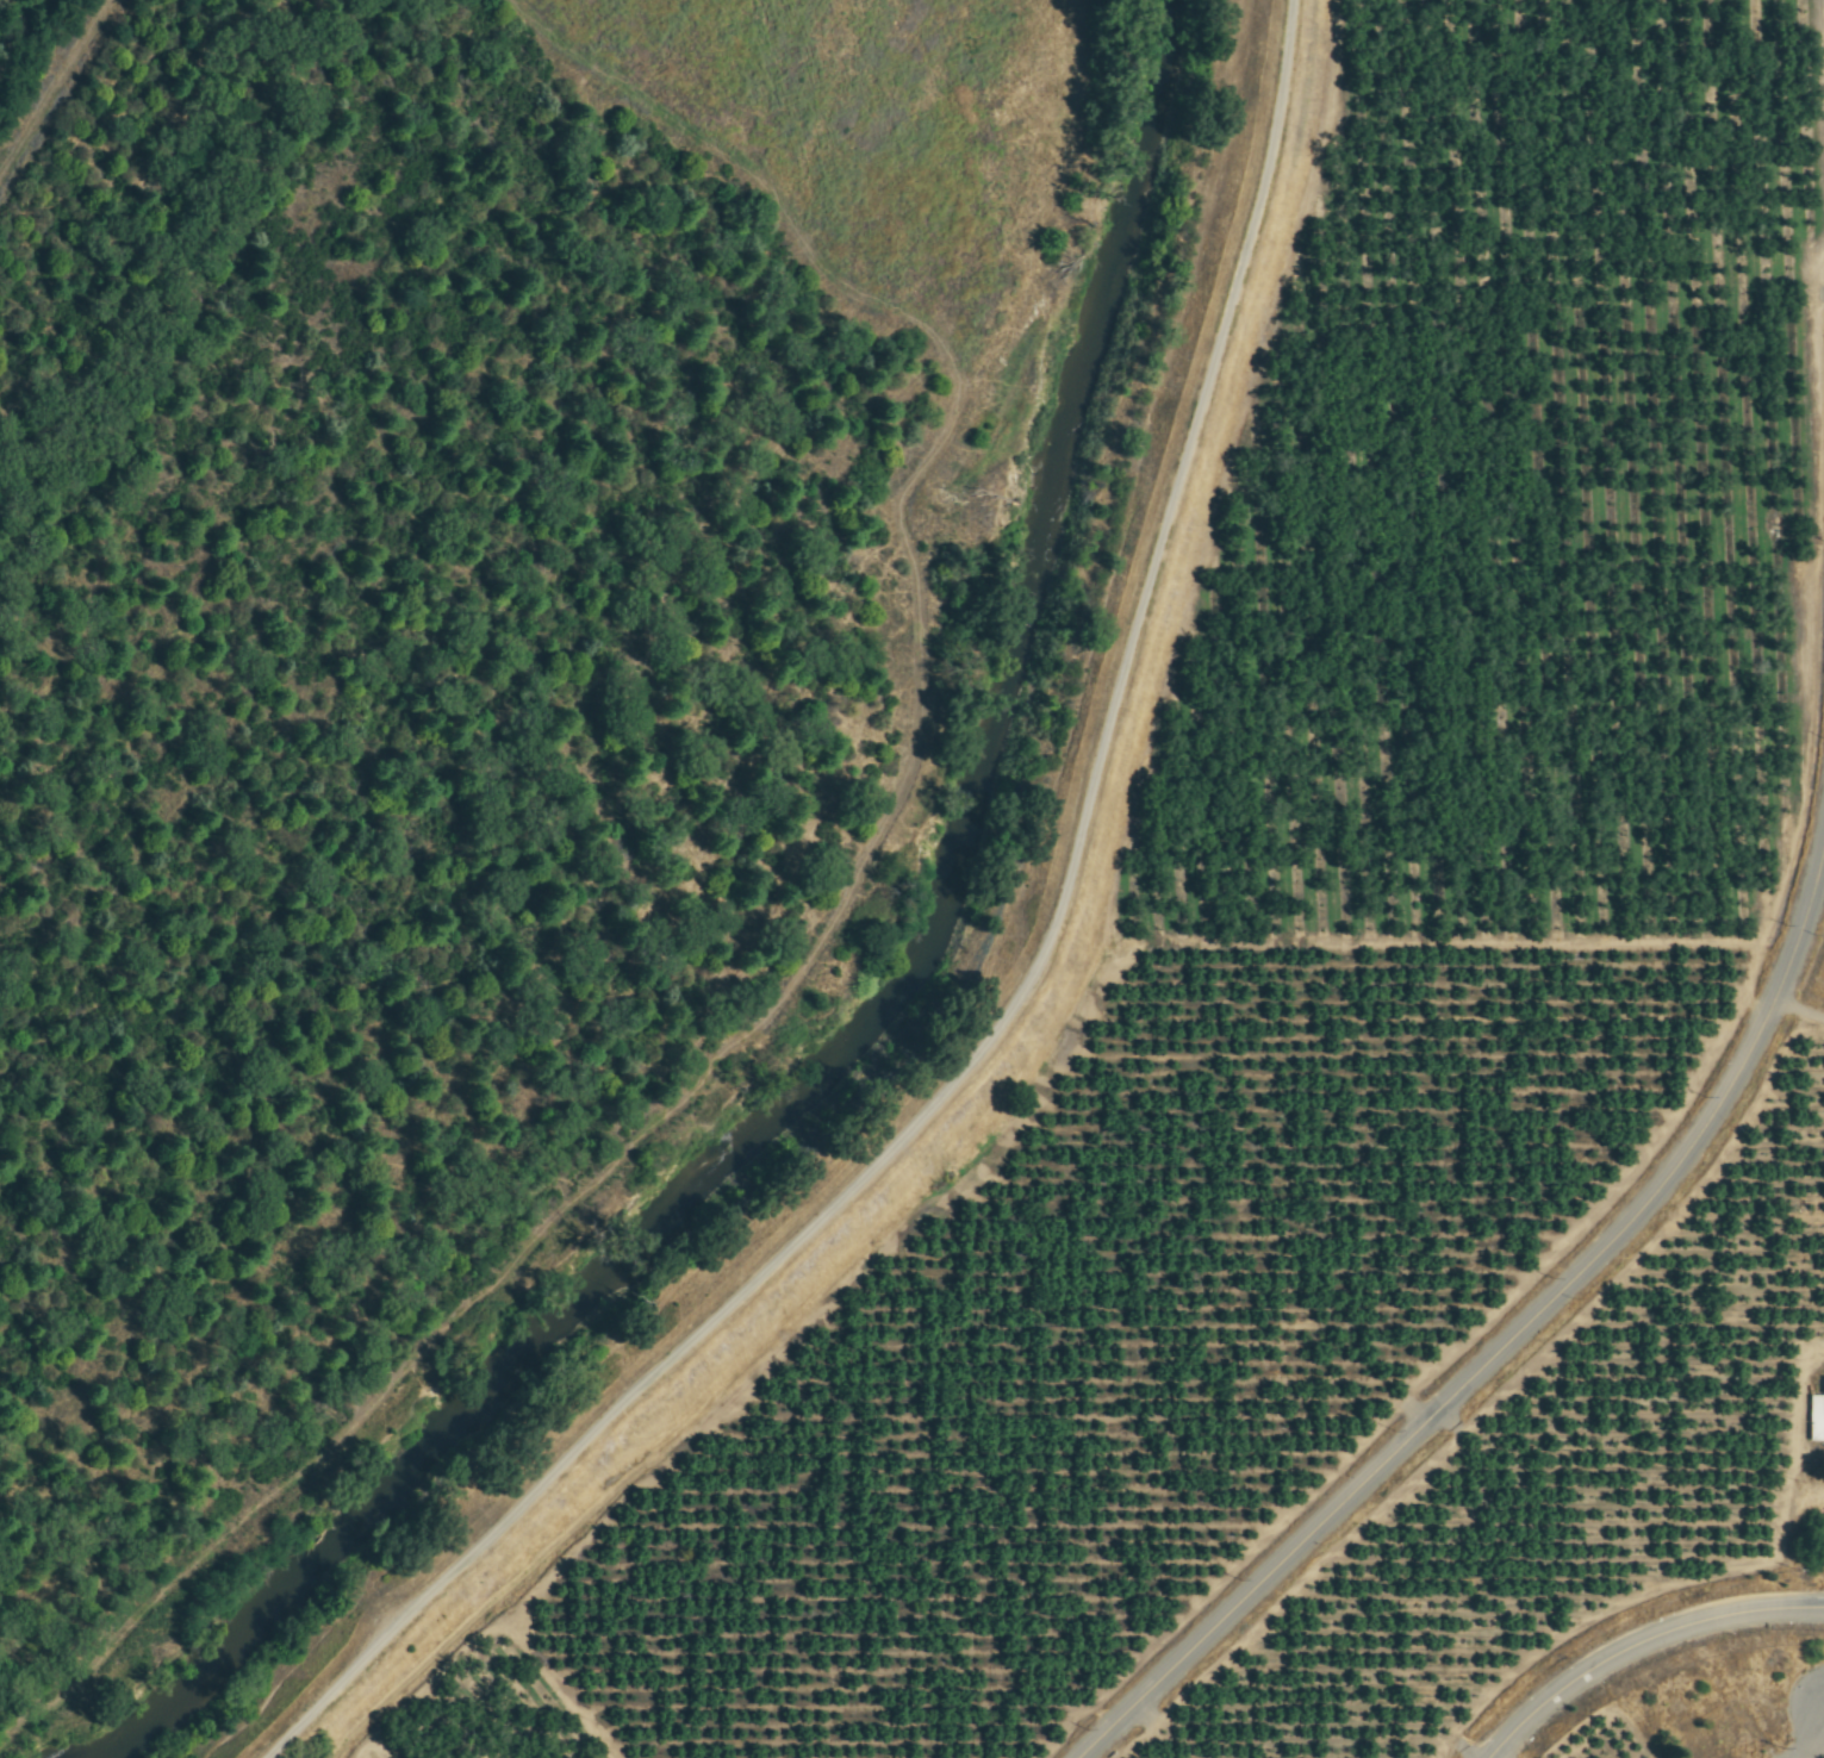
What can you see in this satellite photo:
road: (56, 89)
road: (1006, 1010)
river: (886, 1014)
road: (1508, 1341)
building: (1816, 1415)
road: (1641, 1645)
road: (1812, 1748)

